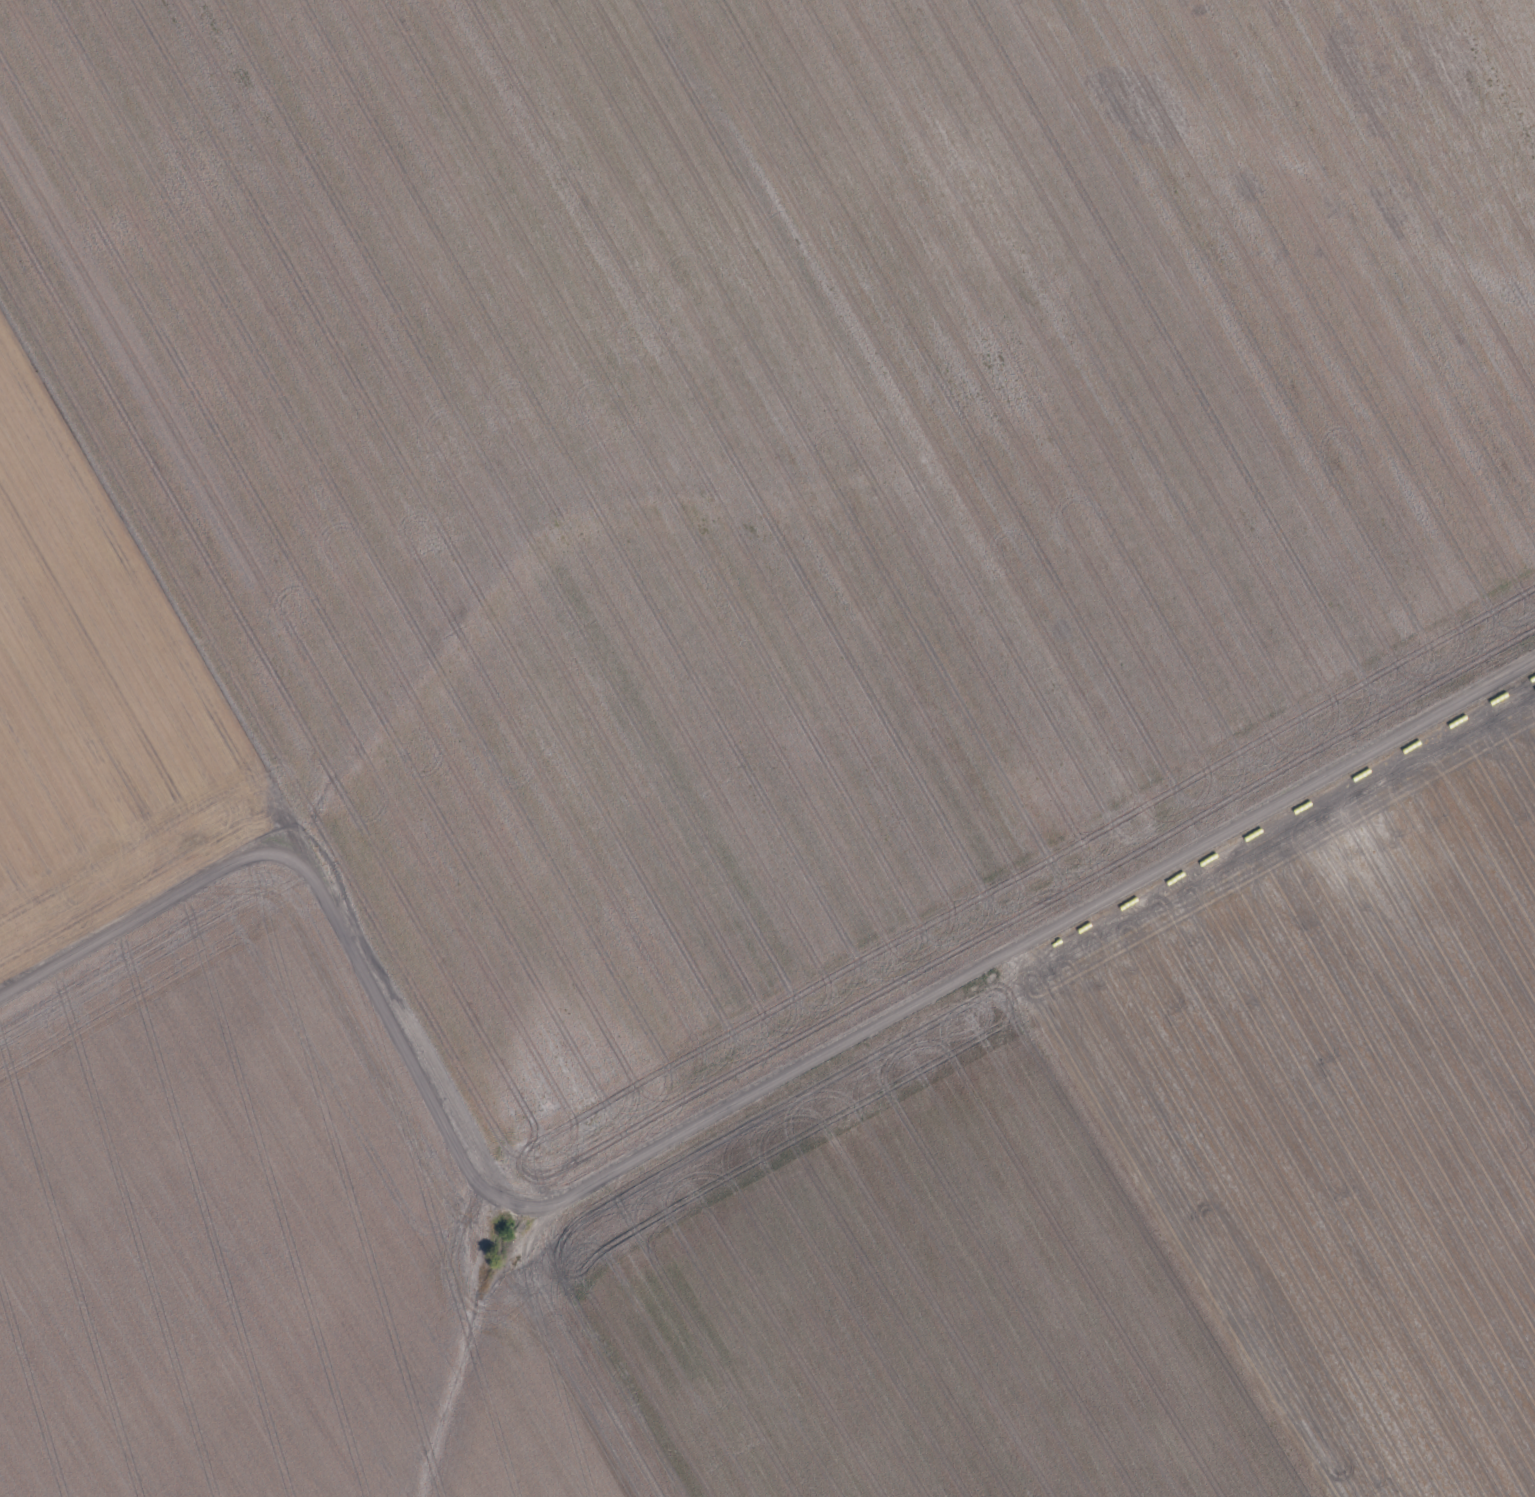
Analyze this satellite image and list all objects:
road: (321, 888)
road: (1021, 936)

